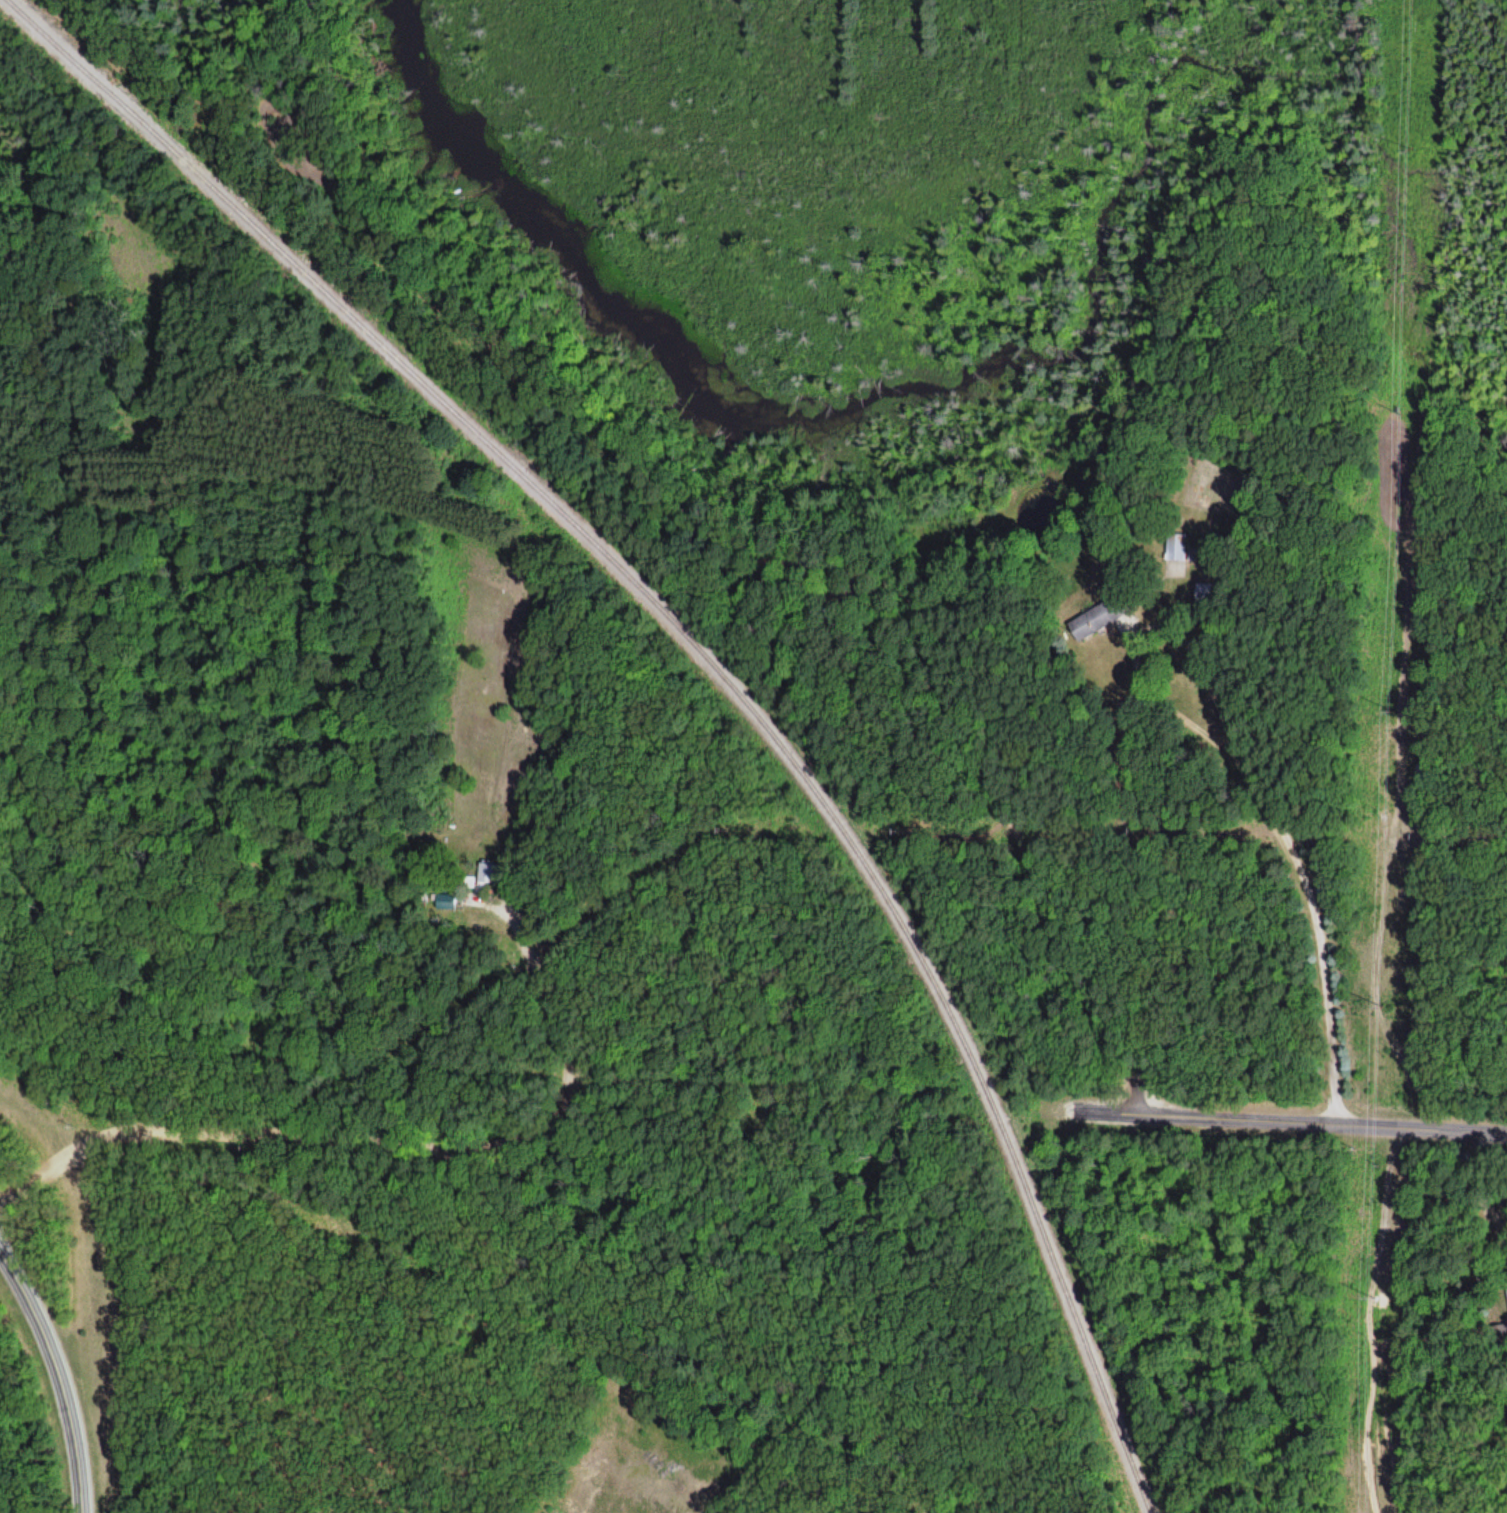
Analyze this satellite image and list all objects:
building: (1171, 542)
building: (793, 566)
building: (1202, 589)
building: (1095, 611)
railway: (712, 661)
road: (977, 759)
road: (1239, 765)
building: (484, 871)
building: (438, 886)
building: (442, 899)
road: (1309, 1123)
road: (386, 1145)
road: (58, 1376)

